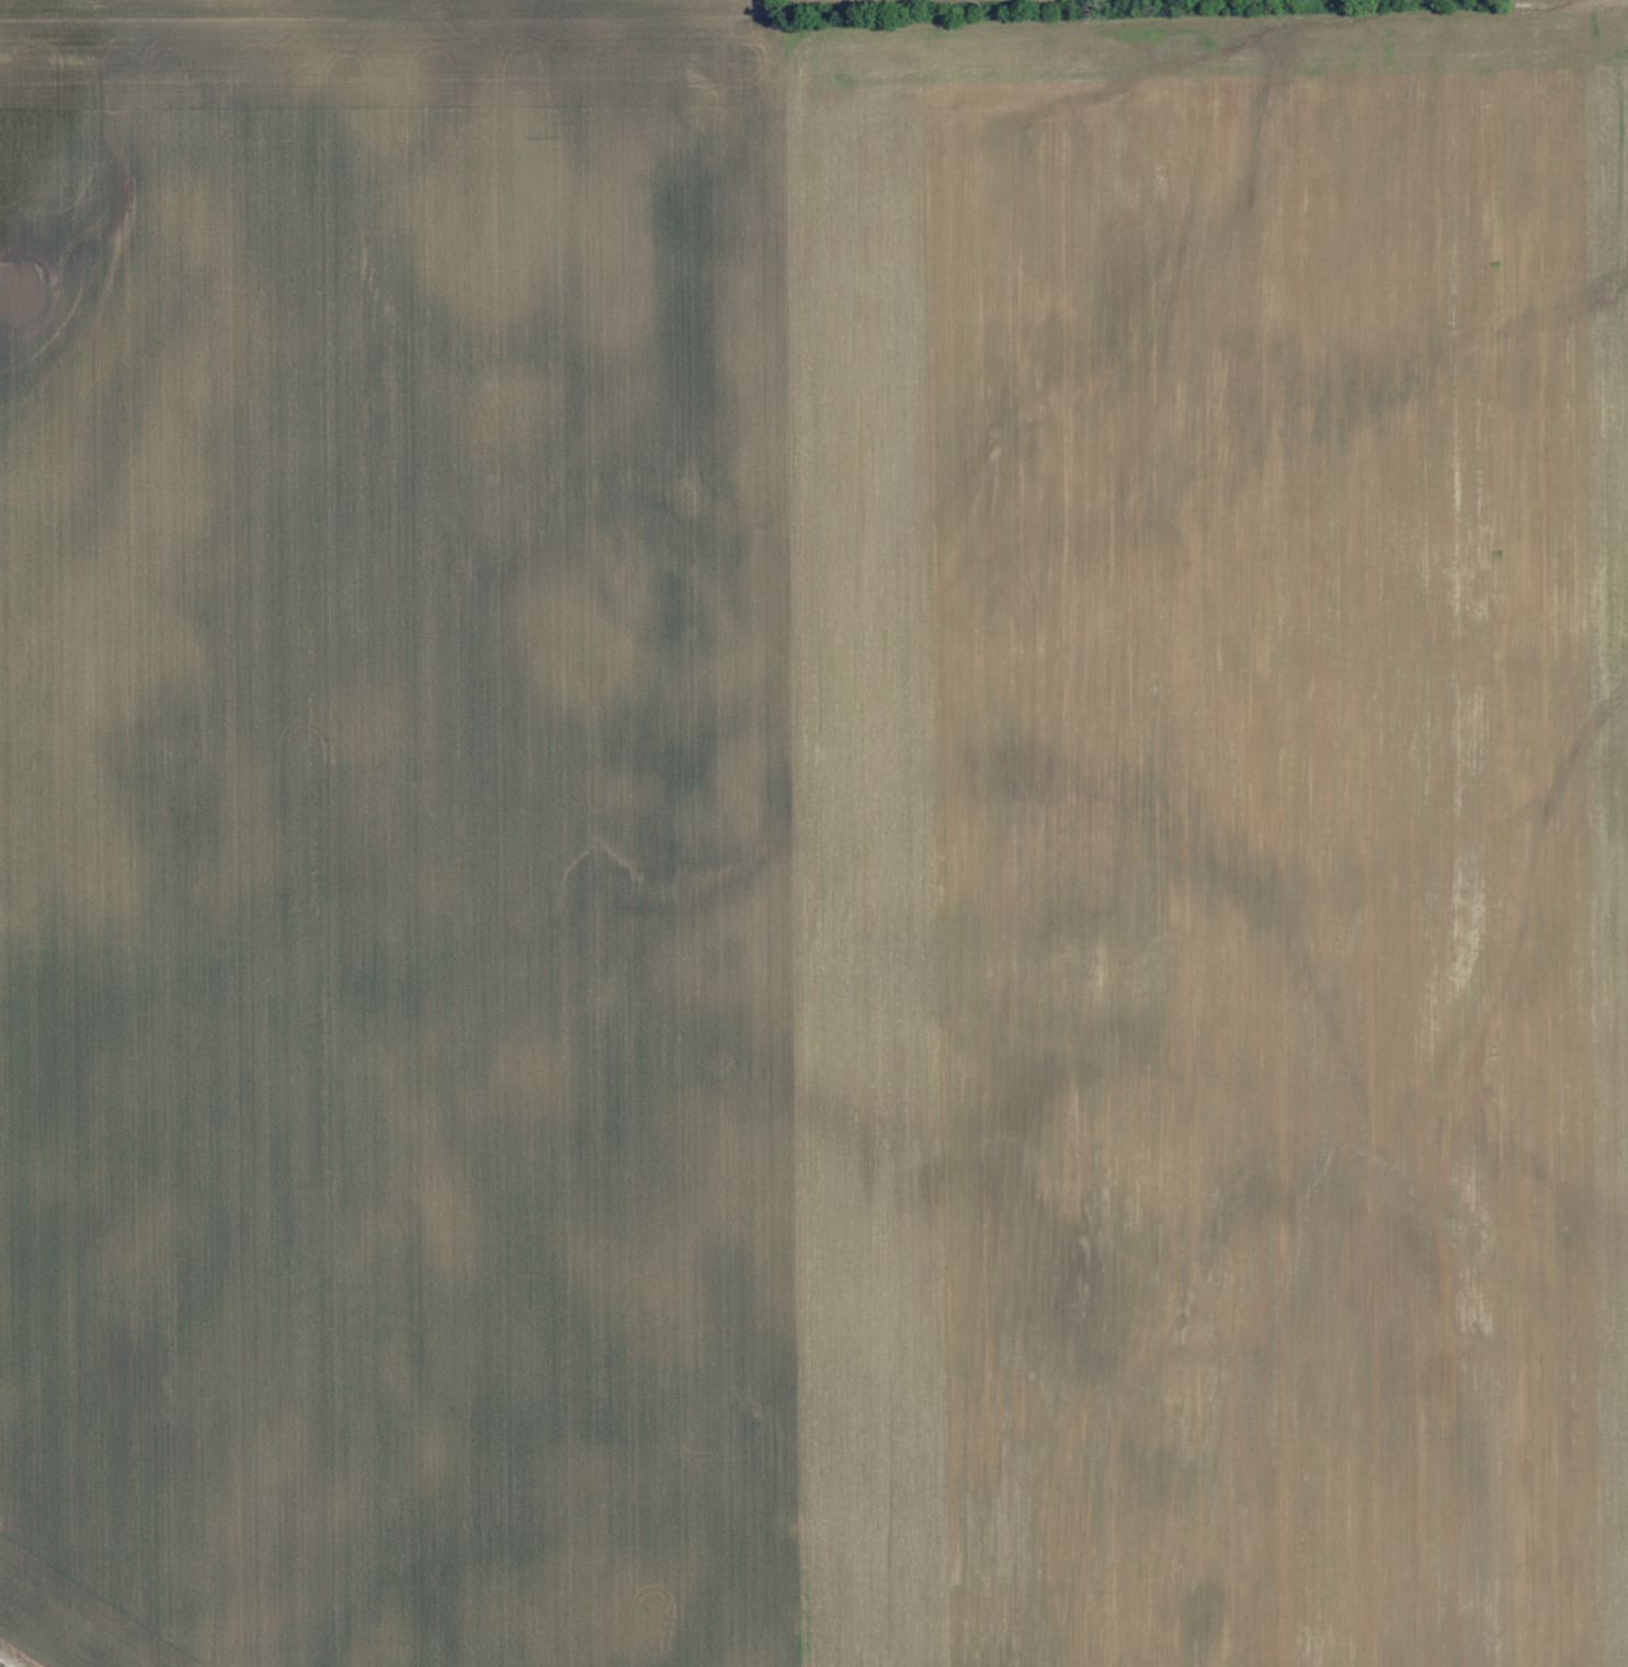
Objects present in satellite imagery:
crop: (945, 5)
crop: (387, 9)
railway: (2, 1665)

